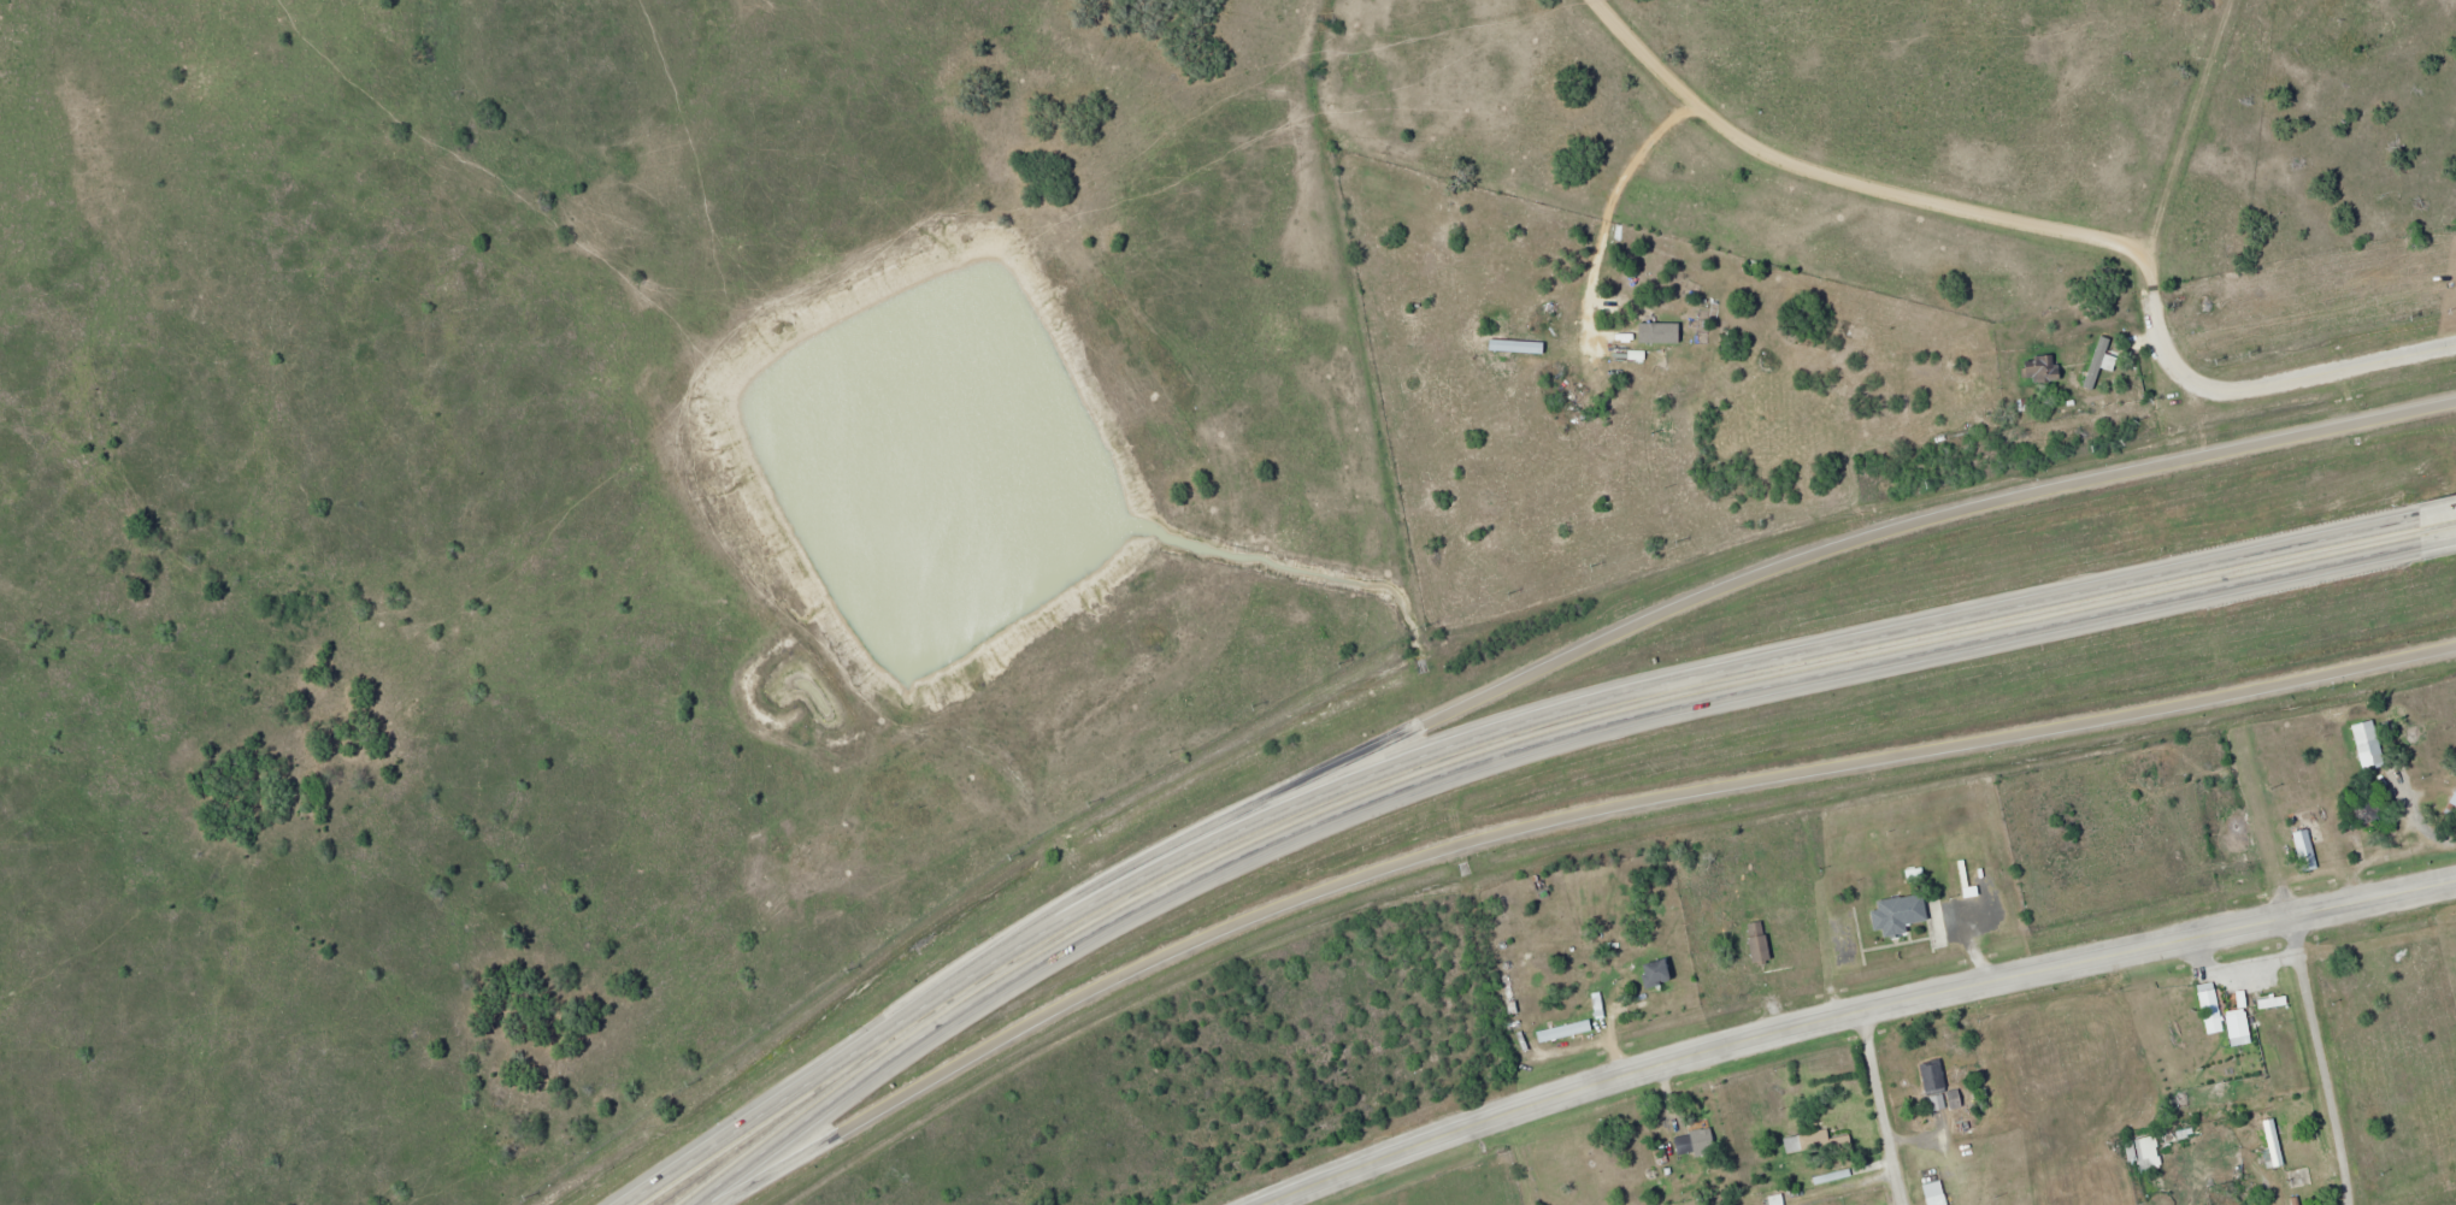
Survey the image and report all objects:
road: (2050, 221)
building: (2044, 367)
road: (2437, 515)
road: (2438, 541)
road: (1641, 622)
road: (1477, 742)
building: (2369, 746)
road: (1520, 764)
building: (2455, 802)
building: (2368, 810)
road: (1553, 825)
building: (2305, 850)
building: (1733, 867)
building: (1900, 912)
building: (1760, 941)
building: (1657, 971)
building: (1515, 991)
building: (2274, 1002)
building: (2211, 1008)
road: (1844, 1009)
building: (2240, 1027)
building: (1565, 1030)
road: (2320, 1057)
building: (1933, 1076)
road: (1883, 1105)
building: (2274, 1142)
building: (1703, 1144)
building: (2143, 1147)
building: (1938, 1199)

